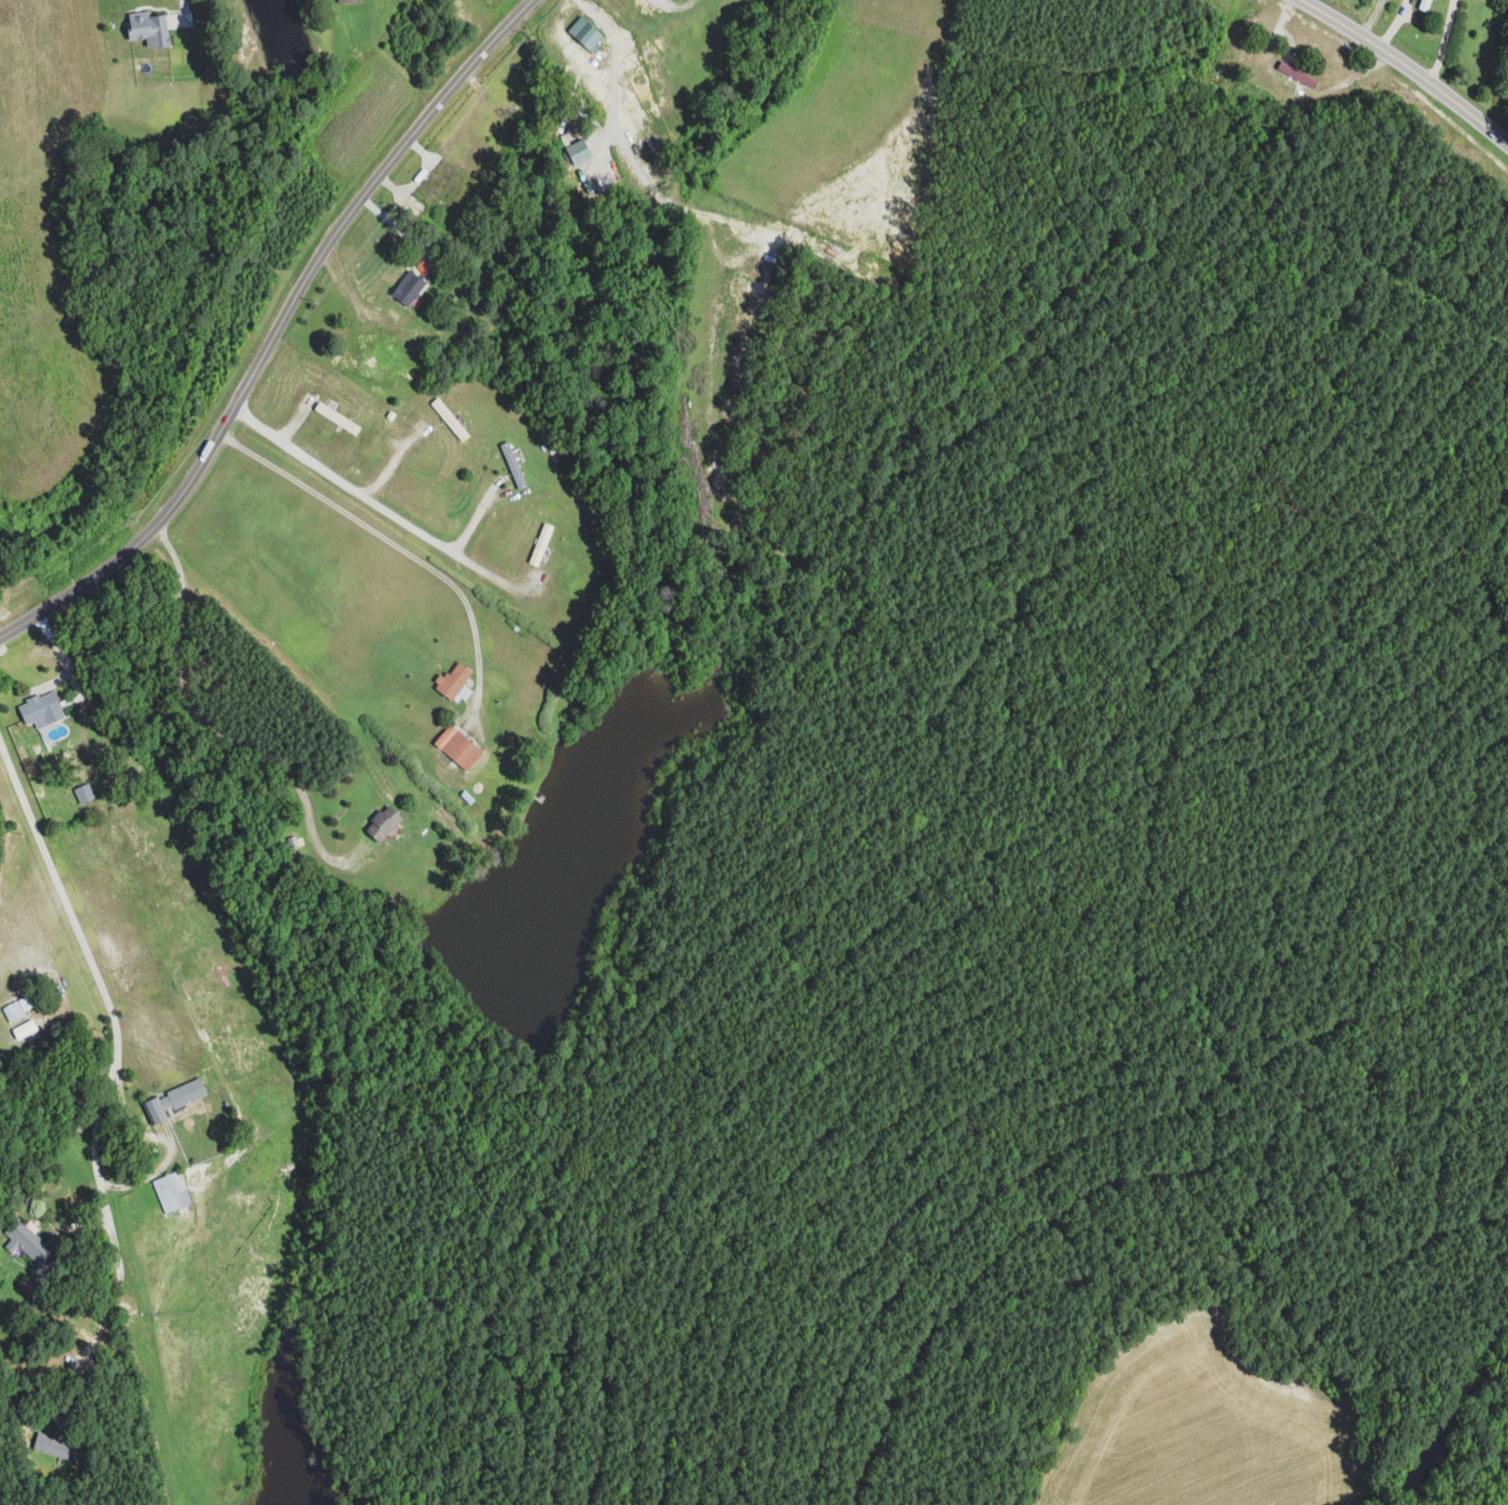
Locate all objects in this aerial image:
building: (349, 1)
road: (181, 5)
building: (1425, 5)
road: (1407, 17)
road: (1371, 18)
road: (1394, 24)
building: (148, 29)
building: (581, 31)
road: (1443, 42)
road: (614, 68)
road: (1407, 68)
building: (1297, 75)
building: (579, 151)
building: (436, 180)
building: (408, 287)
road: (276, 331)
building: (337, 418)
building: (449, 419)
road: (391, 455)
building: (512, 464)
road: (363, 493)
building: (540, 544)
road: (394, 546)
road: (488, 576)
building: (452, 680)
building: (41, 707)
building: (458, 747)
building: (84, 793)
building: (383, 823)
building: (18, 1007)
road: (109, 1007)
building: (24, 1028)
building: (171, 1100)
road: (159, 1138)
building: (171, 1191)
building: (29, 1242)
road: (96, 1335)
building: (54, 1446)

